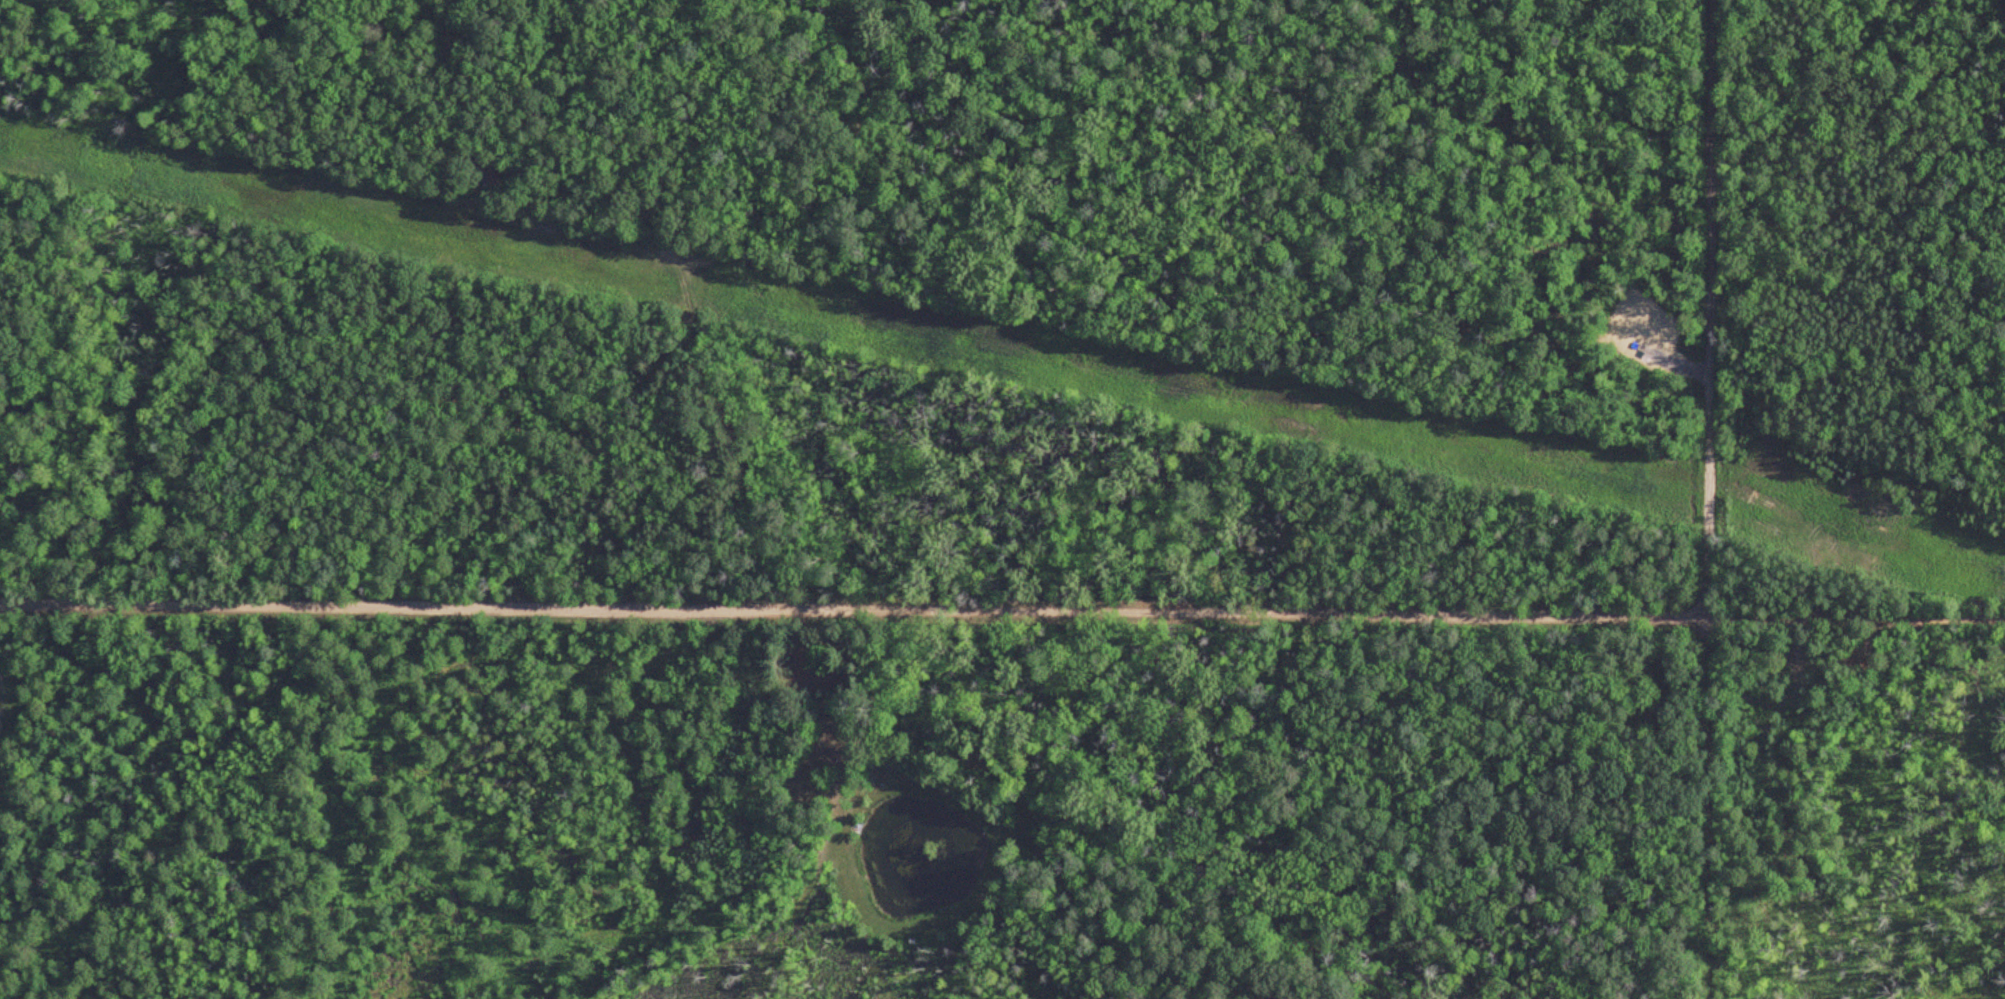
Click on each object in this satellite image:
road: (1002, 608)

